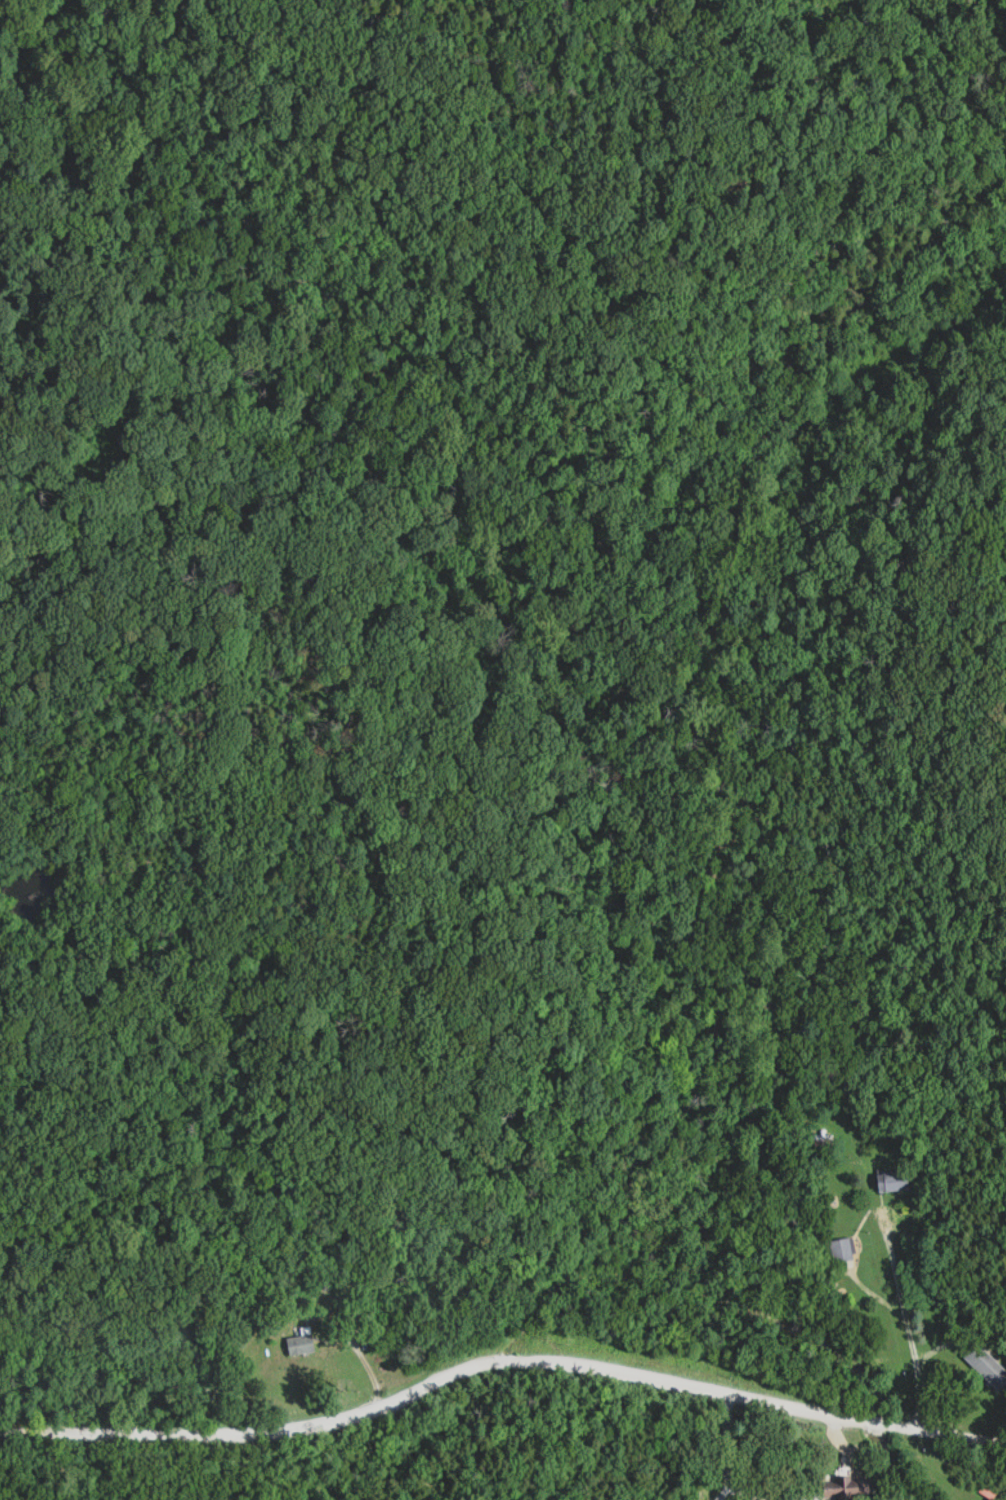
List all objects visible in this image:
building: (893, 1181)
building: (842, 1250)
road: (243, 1263)
road: (911, 1319)
building: (303, 1343)
road: (500, 1360)
building: (990, 1370)
building: (990, 1492)

